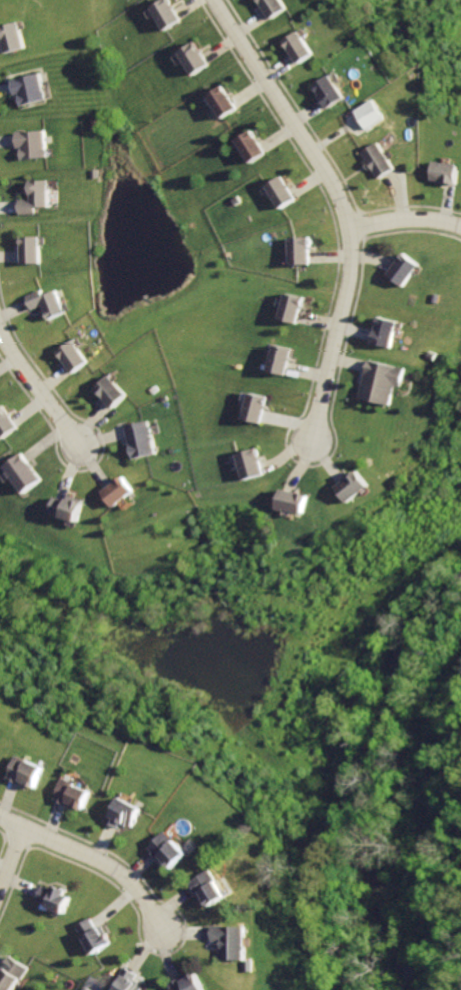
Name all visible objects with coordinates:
building: (277, 8)
building: (167, 15)
building: (11, 38)
building: (302, 48)
building: (195, 61)
building: (28, 88)
building: (331, 95)
building: (221, 105)
building: (372, 114)
building: (30, 145)
building: (251, 148)
building: (379, 161)
building: (445, 173)
building: (280, 194)
building: (35, 198)
road: (341, 204)
road: (404, 219)
building: (30, 250)
building: (297, 252)
building: (400, 267)
building: (45, 301)
building: (287, 308)
building: (383, 333)
building: (74, 358)
building: (275, 359)
building: (378, 382)
road: (39, 391)
building: (114, 394)
building: (252, 408)
building: (5, 424)
building: (143, 440)
building: (249, 464)
building: (21, 474)
building: (349, 485)
building: (117, 491)
building: (288, 502)
building: (62, 509)
building: (0, 741)
building: (1, 745)
building: (30, 773)
building: (75, 797)
building: (127, 815)
road: (13, 850)
building: (171, 853)
road: (91, 855)
building: (210, 893)
building: (52, 899)
building: (91, 936)
building: (232, 943)
building: (10, 975)
building: (126, 980)
building: (189, 983)

